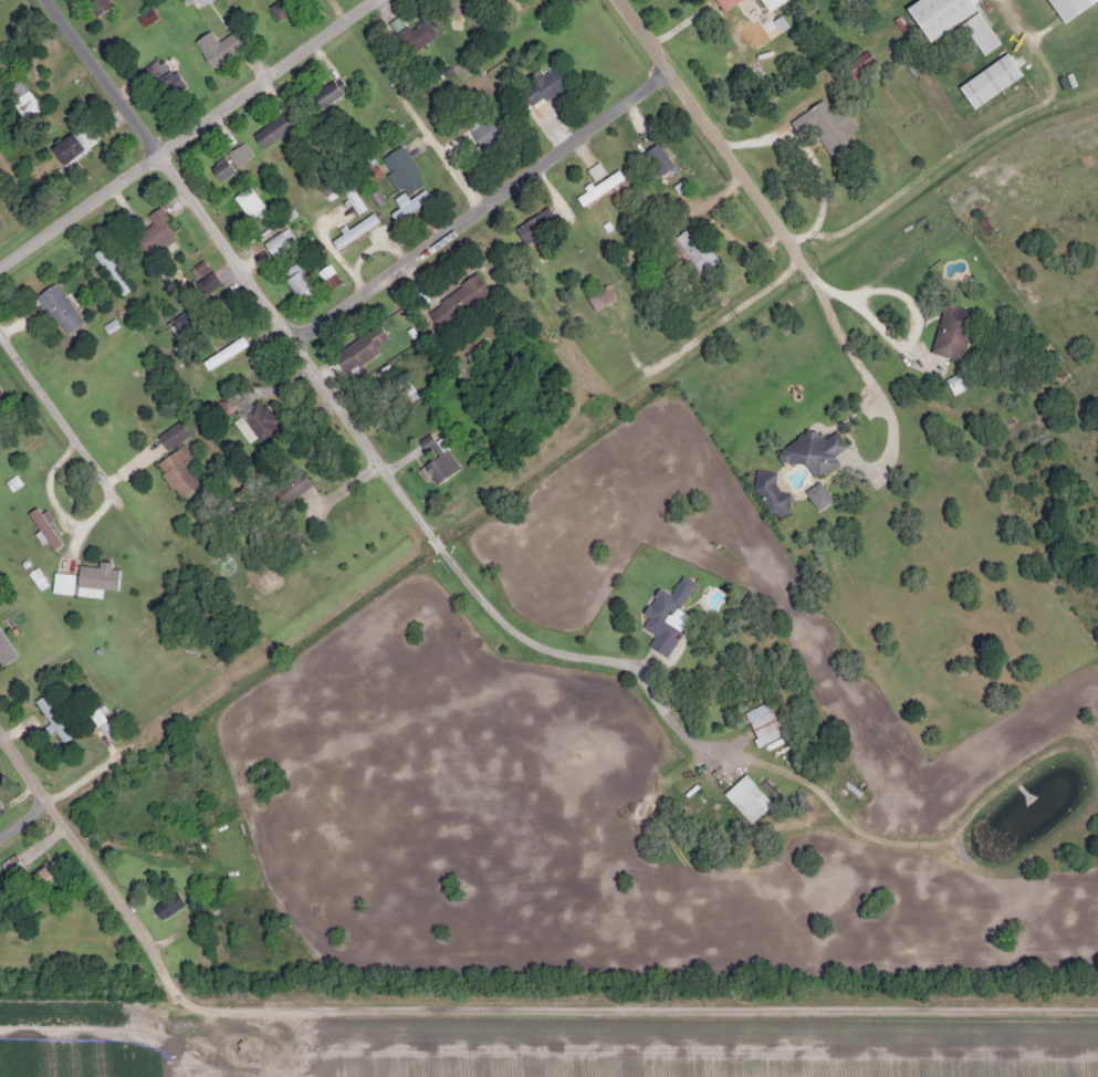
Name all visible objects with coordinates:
building: (280, 7)
building: (1067, 7)
road: (344, 9)
building: (951, 20)
building: (755, 22)
building: (411, 33)
building: (216, 46)
building: (989, 81)
building: (170, 85)
building: (545, 85)
building: (327, 92)
building: (20, 98)
building: (273, 129)
building: (825, 129)
building: (484, 133)
road: (717, 135)
road: (188, 136)
building: (69, 146)
road: (445, 153)
building: (657, 153)
building: (229, 163)
building: (594, 170)
building: (404, 181)
building: (598, 187)
road: (484, 203)
road: (841, 215)
building: (535, 227)
building: (154, 232)
building: (352, 232)
building: (274, 244)
building: (692, 251)
road: (850, 266)
building: (330, 276)
building: (206, 282)
building: (297, 285)
building: (598, 297)
building: (456, 302)
building: (57, 309)
building: (951, 331)
building: (359, 348)
road: (323, 374)
road: (276, 384)
building: (254, 422)
building: (175, 431)
road: (79, 441)
building: (812, 452)
building: (436, 461)
building: (178, 471)
road: (312, 478)
building: (286, 489)
building: (816, 495)
building: (43, 527)
building: (95, 578)
building: (62, 582)
building: (663, 615)
road: (672, 626)
road: (669, 642)
building: (4, 649)
building: (94, 717)
building: (51, 719)
building: (762, 721)
road: (1084, 736)
road: (788, 741)
road: (1022, 771)
road: (61, 794)
building: (745, 796)
road: (1028, 856)
building: (11, 866)
road: (112, 872)
building: (41, 876)
building: (166, 905)

